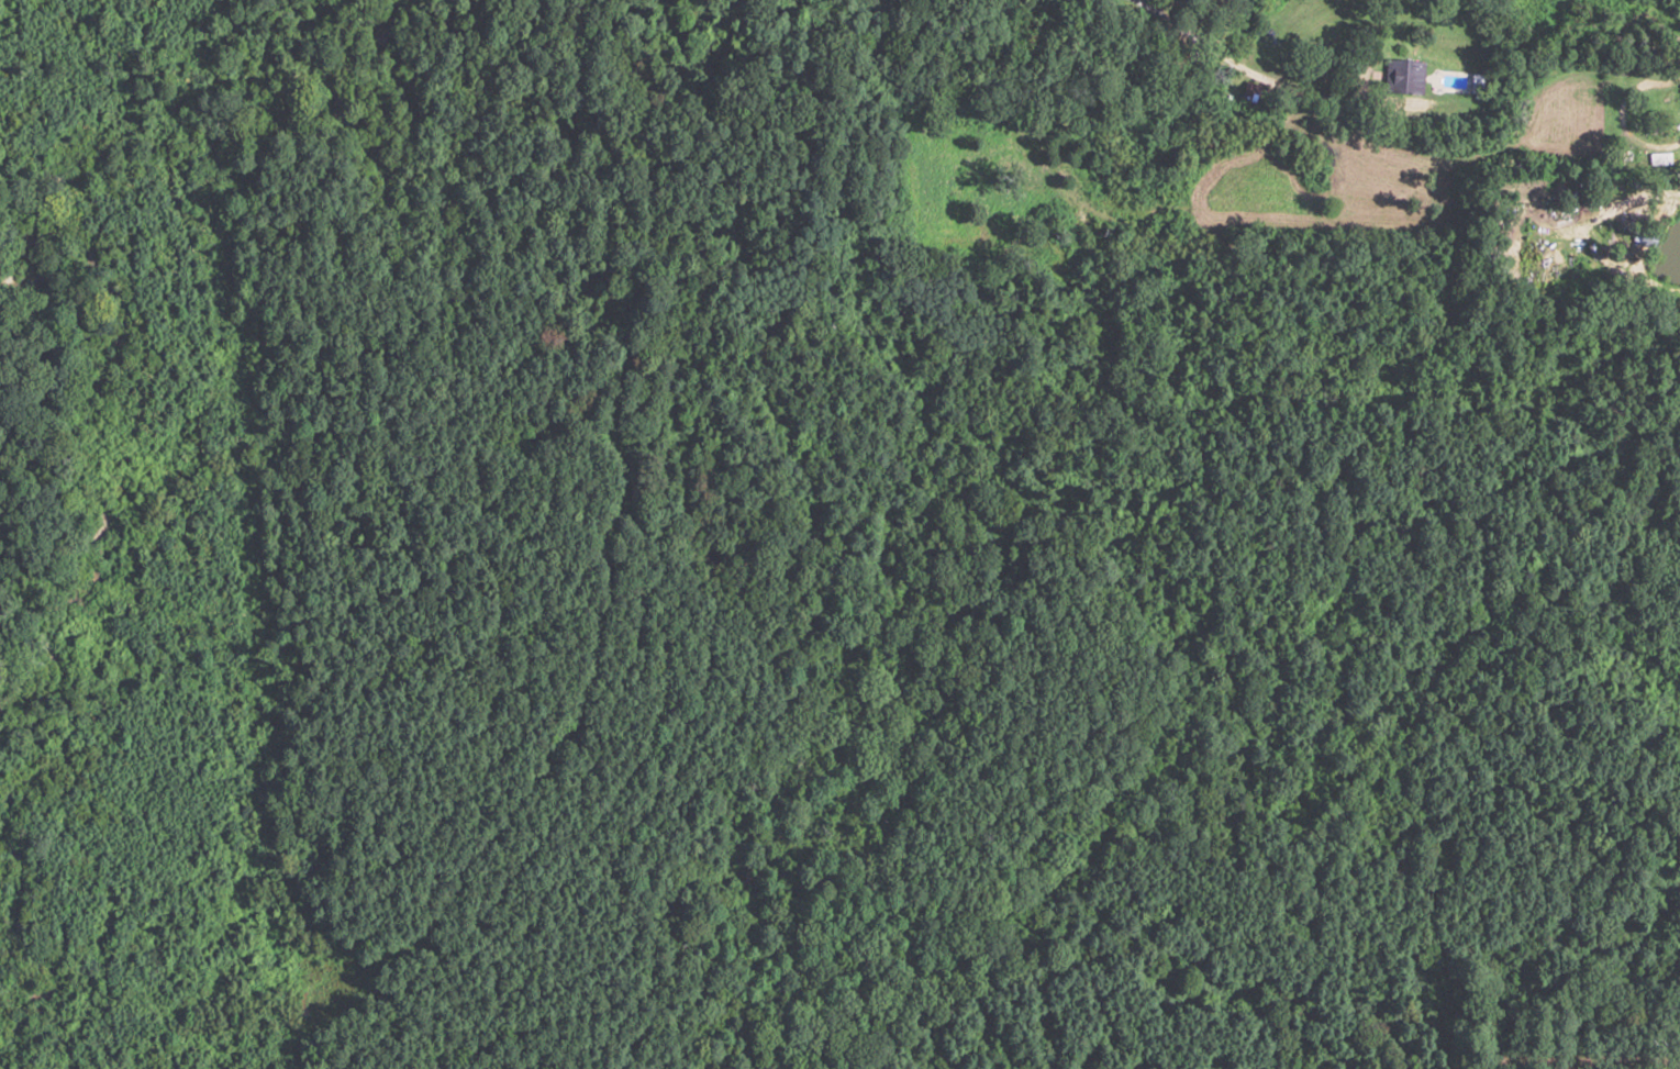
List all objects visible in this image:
road: (1154, 37)
building: (1402, 76)

